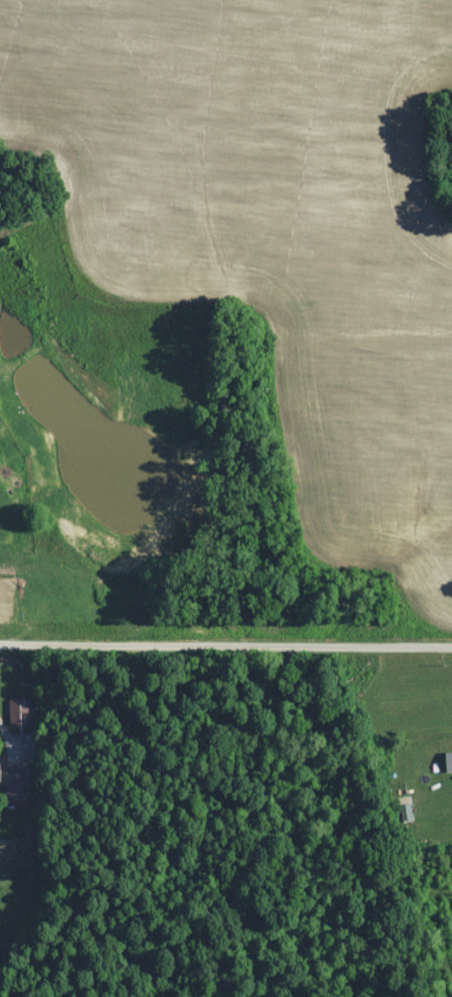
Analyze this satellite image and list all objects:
road: (226, 651)
building: (22, 712)
road: (3, 739)
building: (450, 762)
building: (1, 773)
building: (16, 785)

